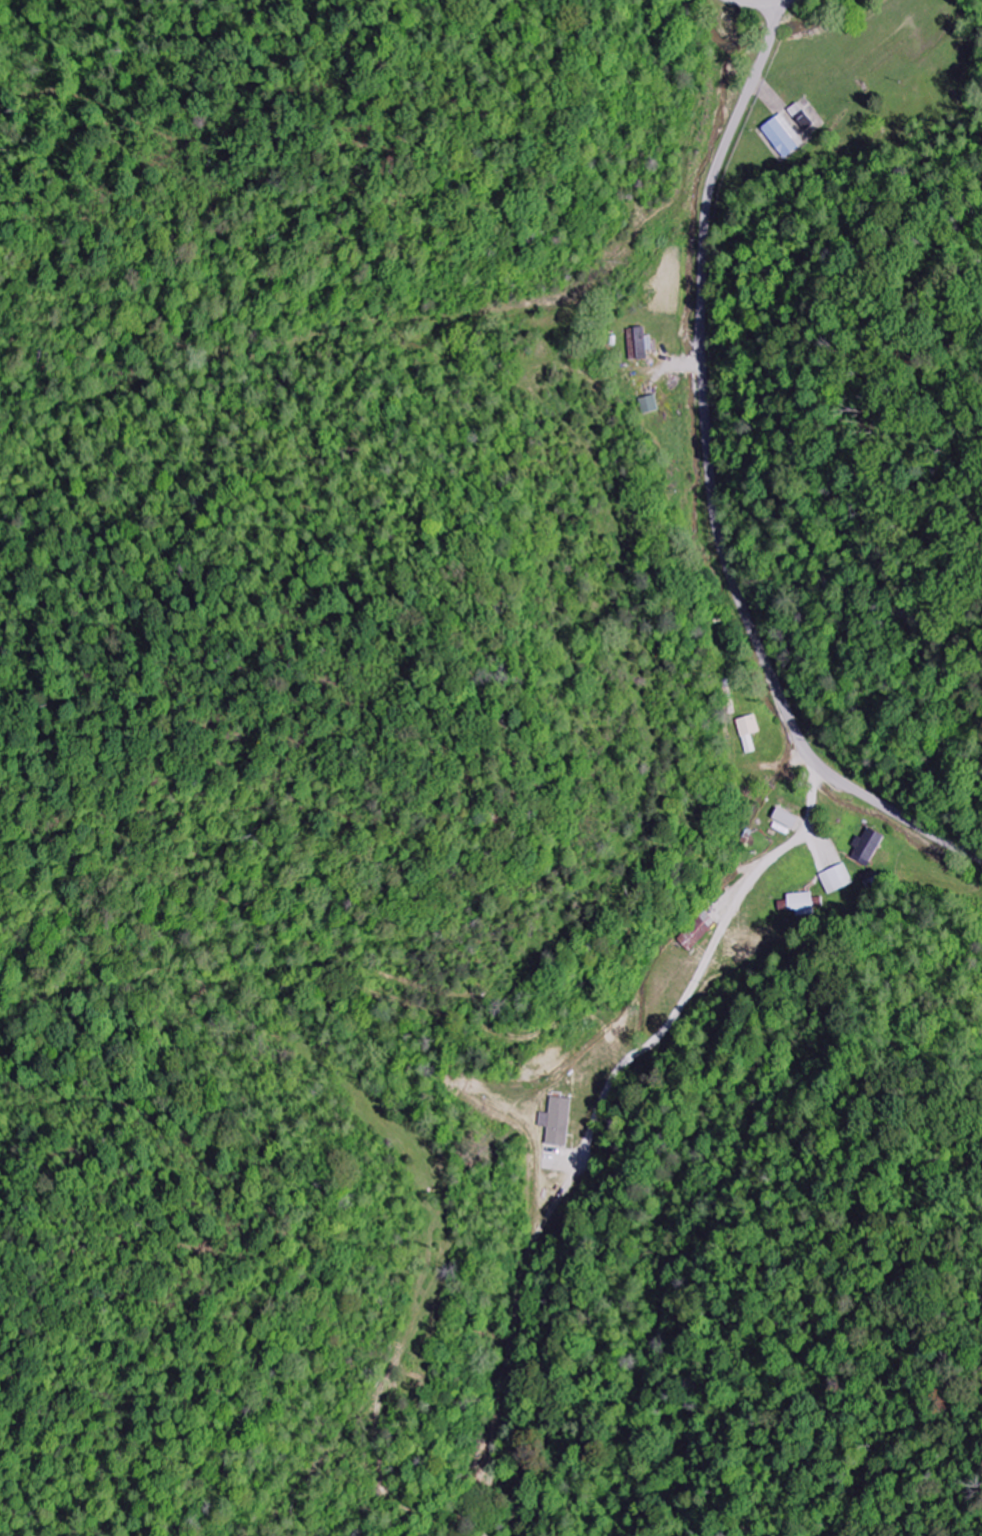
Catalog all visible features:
road: (753, 2)
building: (781, 136)
building: (649, 404)
road: (710, 484)
building: (747, 726)
building: (866, 847)
building: (835, 879)
building: (800, 904)
building: (558, 1108)
road: (607, 1129)

